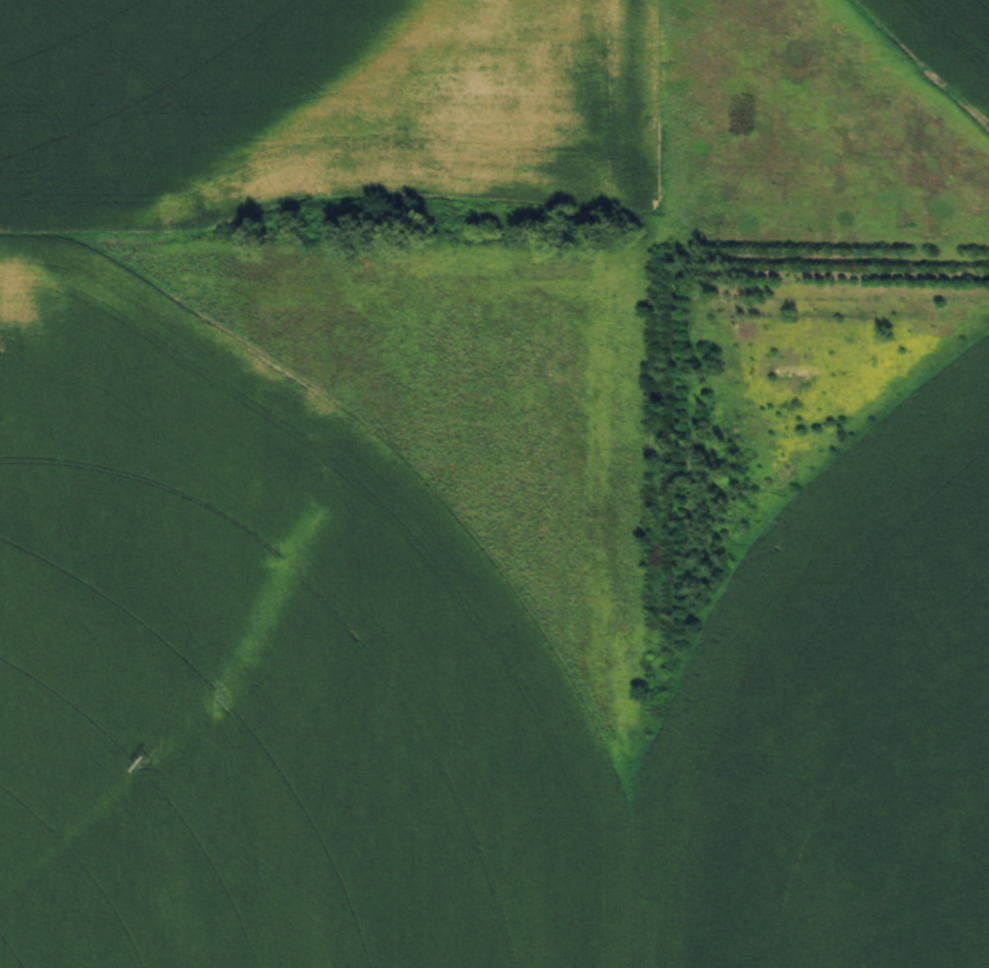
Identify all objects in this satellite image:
power tower: (148, 765)

